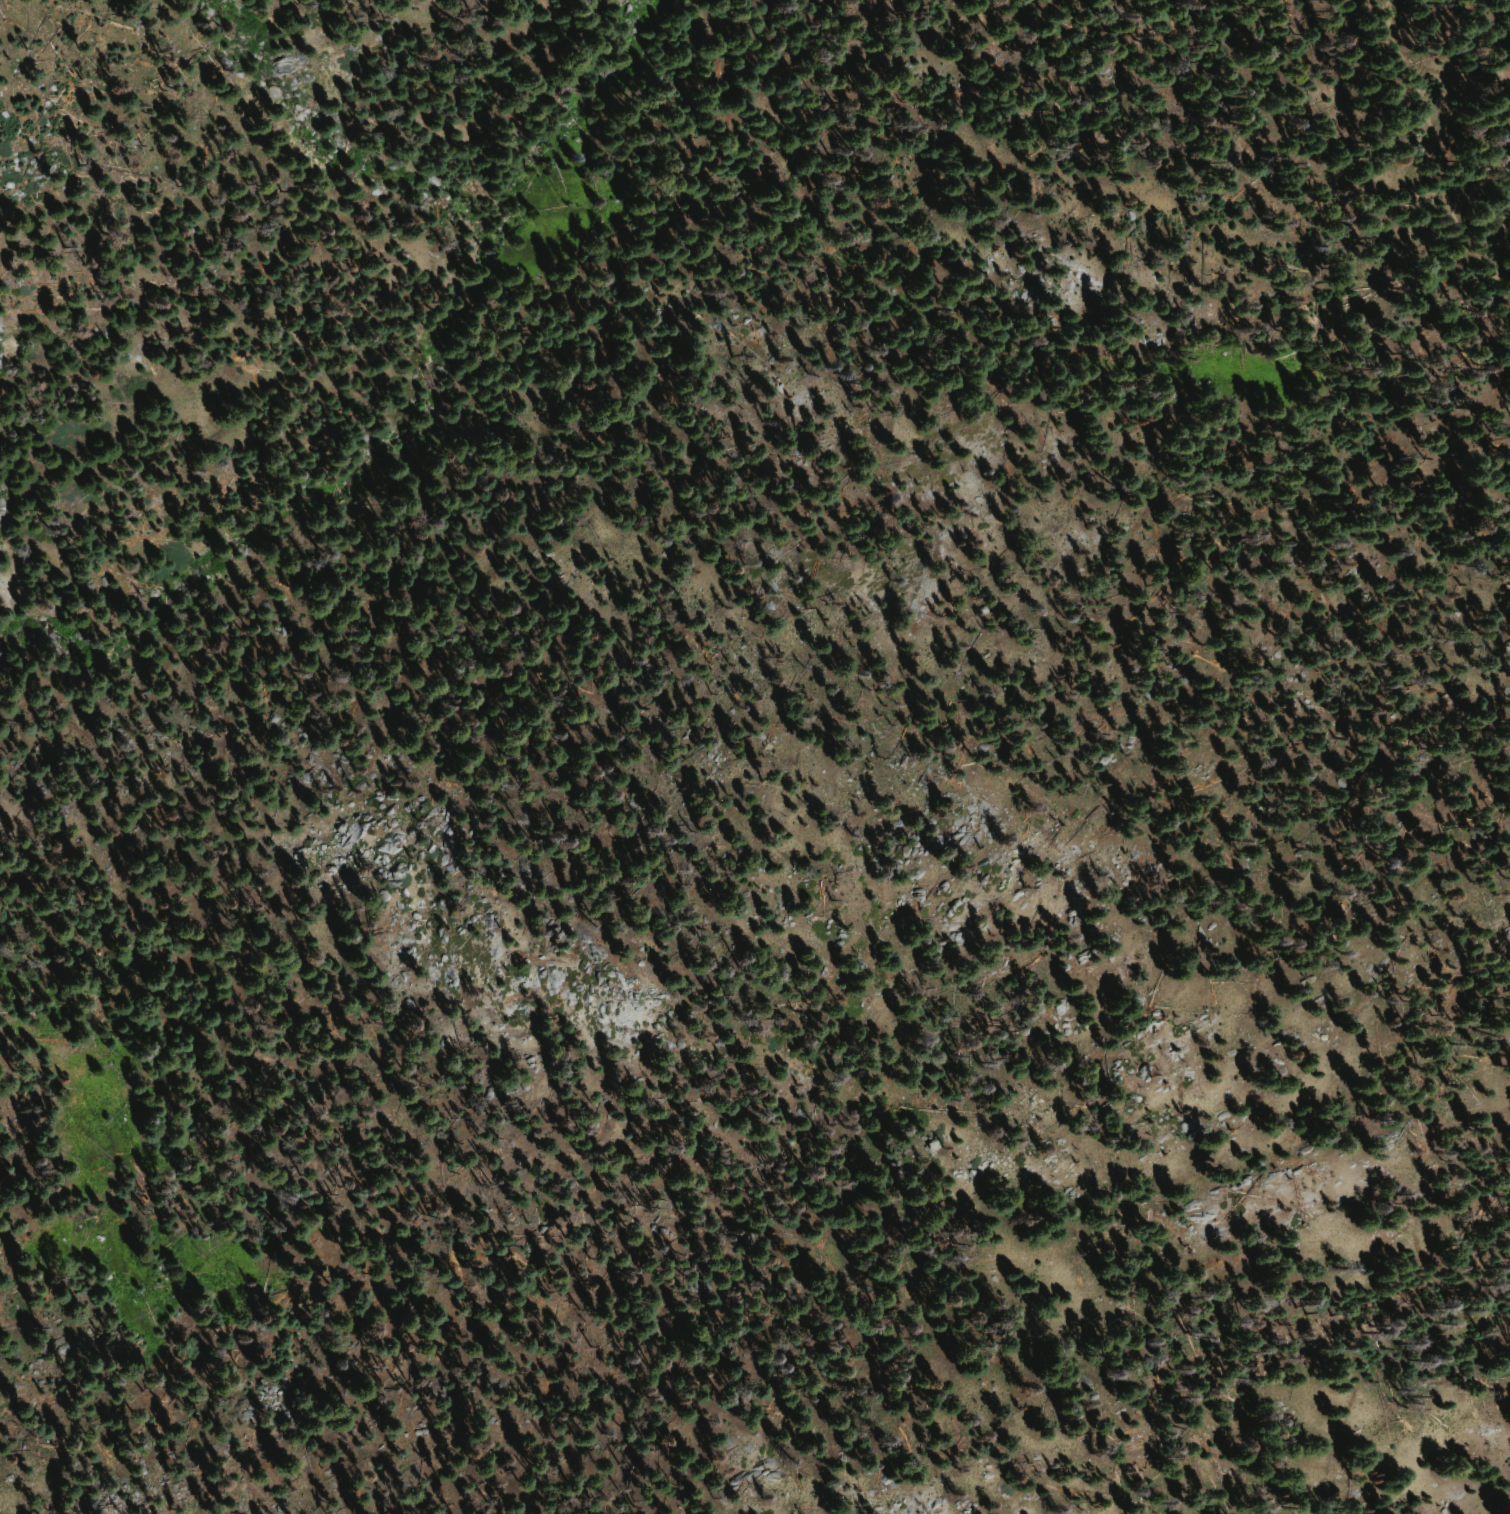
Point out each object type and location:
road: (1434, 160)

